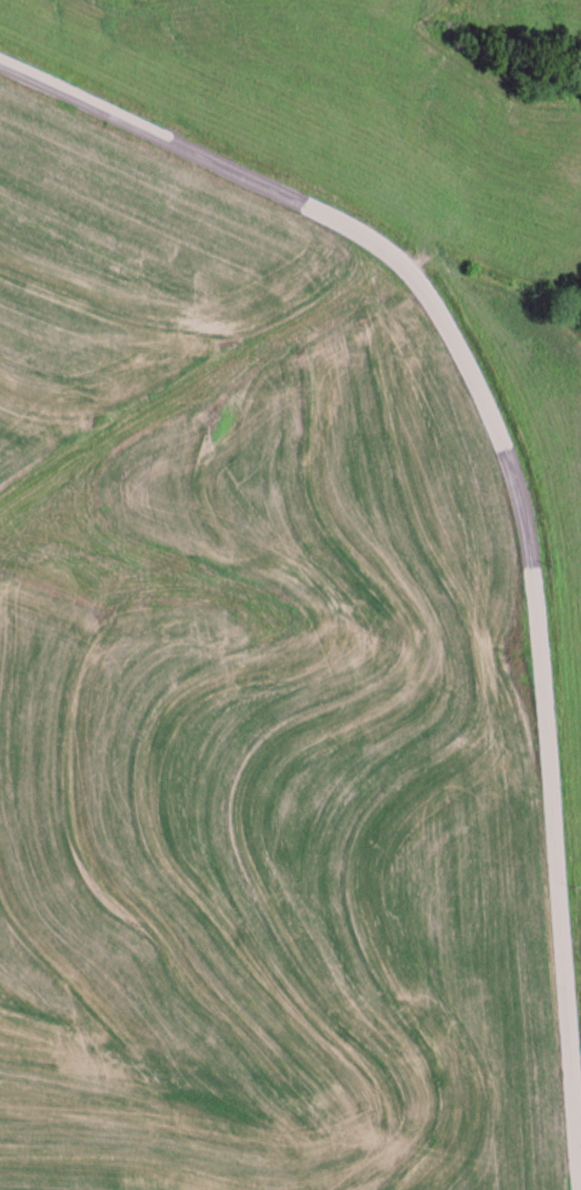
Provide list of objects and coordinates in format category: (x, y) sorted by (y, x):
road: (518, 486)

